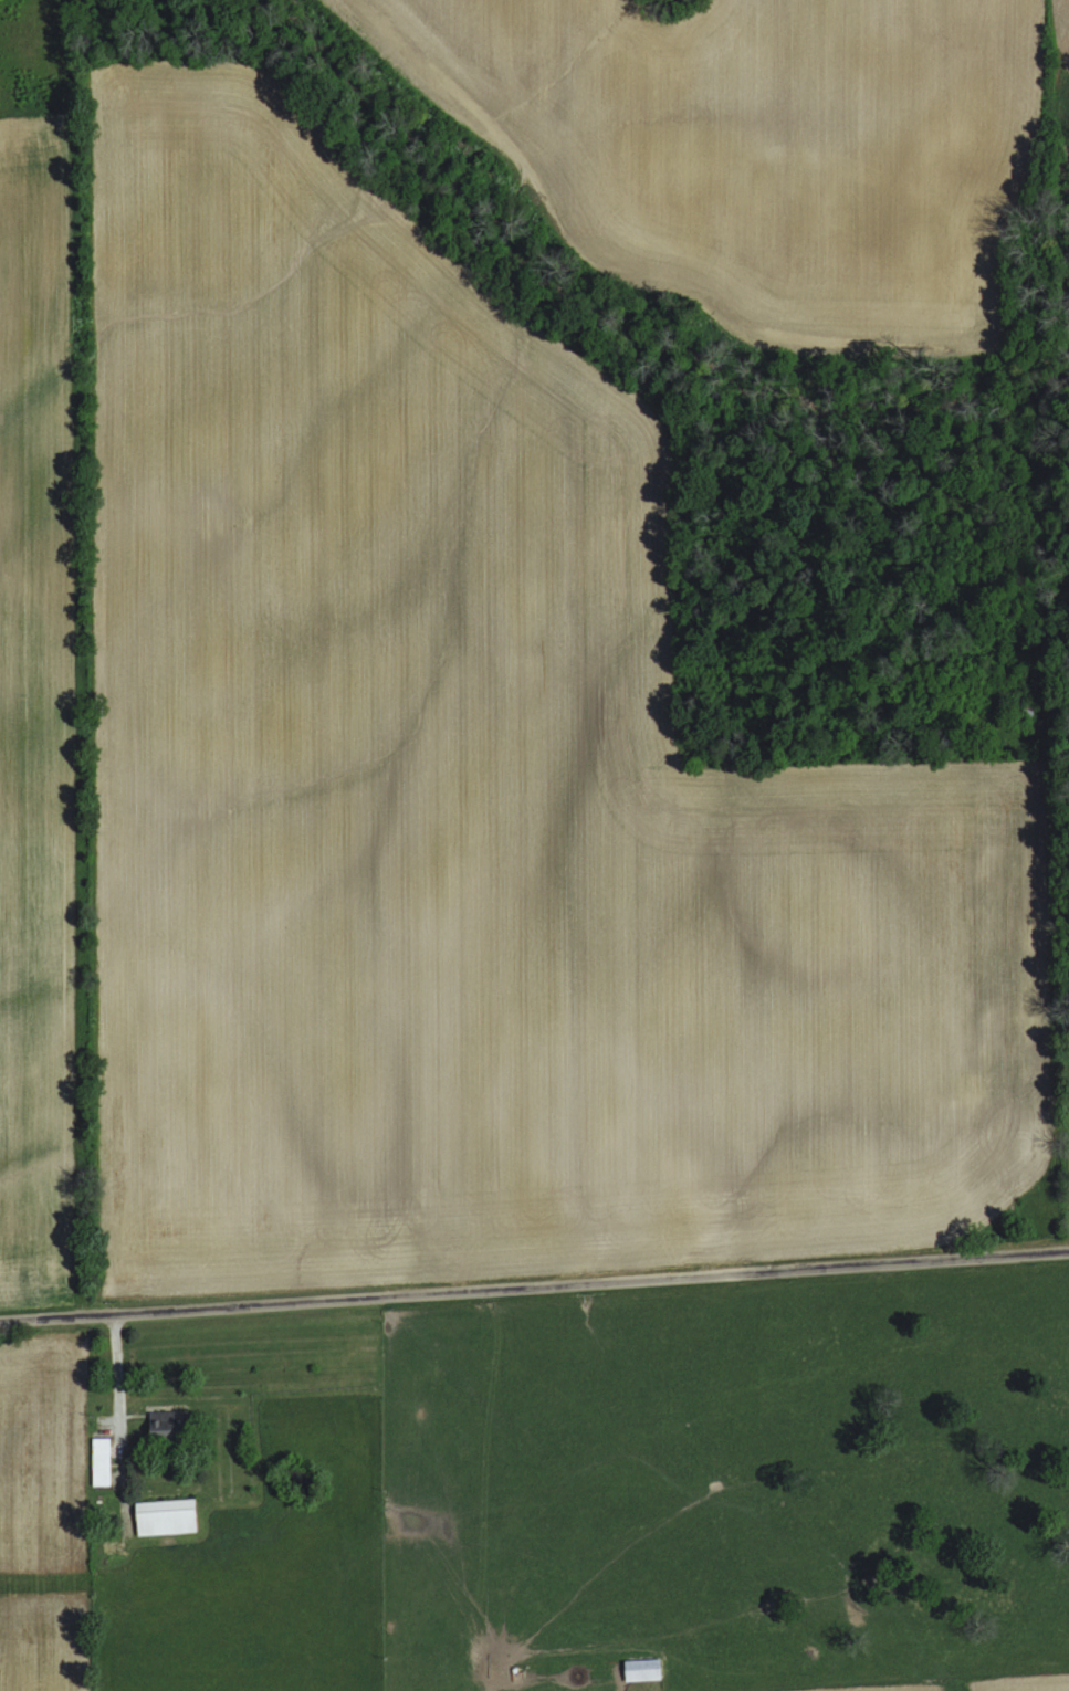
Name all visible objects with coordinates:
road: (534, 1286)
building: (167, 1424)
building: (99, 1462)
road: (494, 1483)
building: (165, 1517)
building: (641, 1669)
road: (504, 1689)

